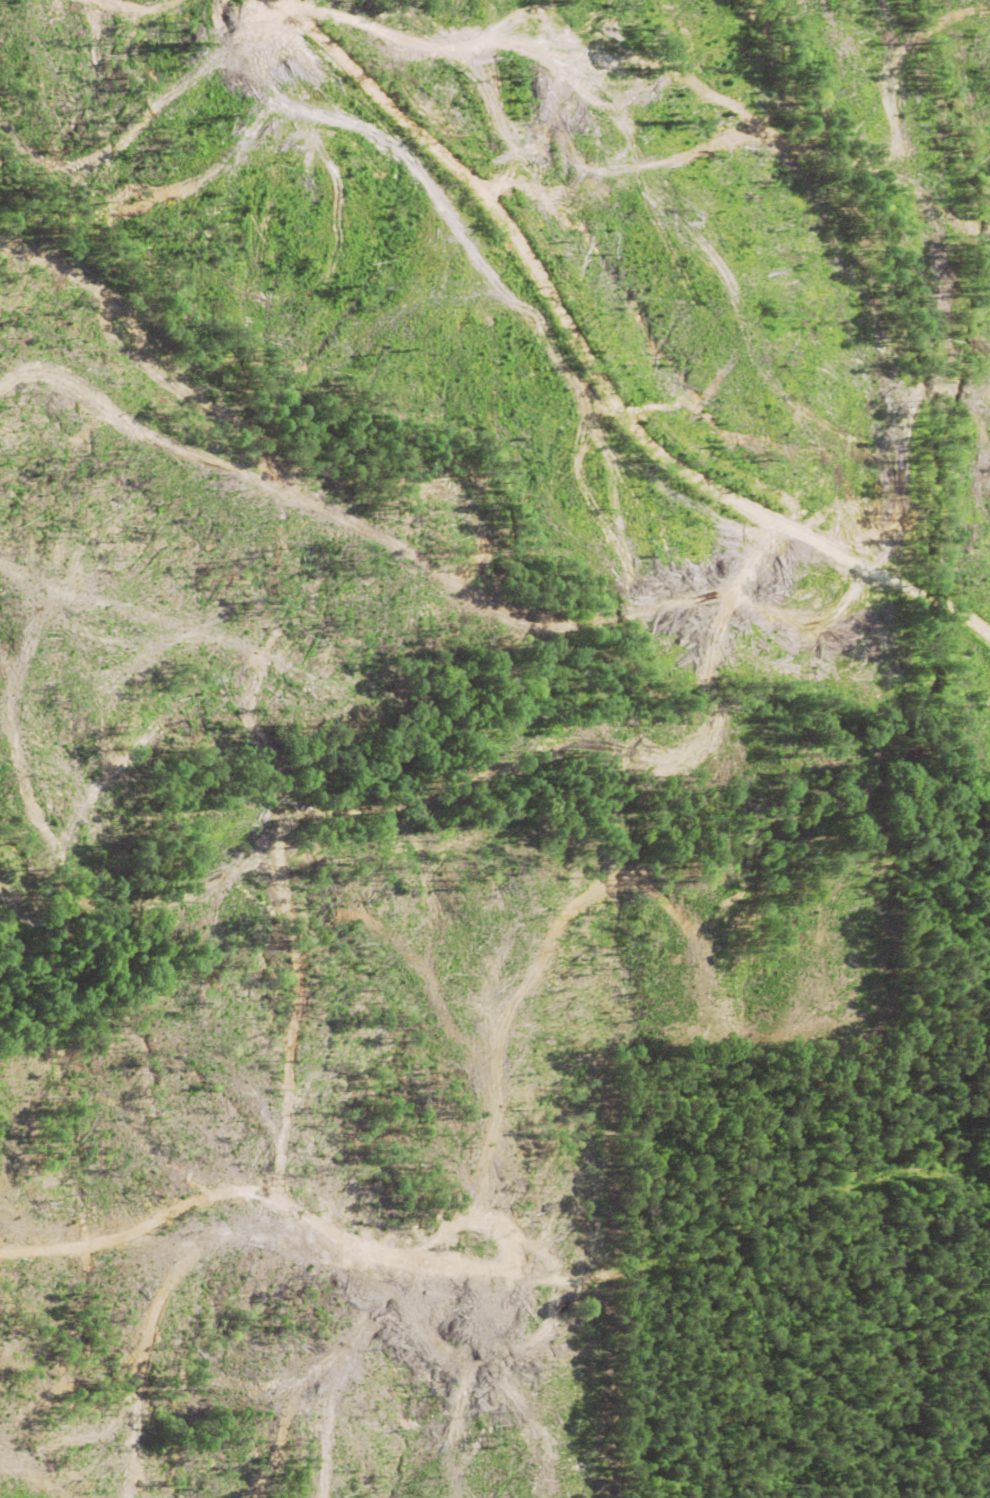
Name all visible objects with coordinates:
road: (584, 377)

